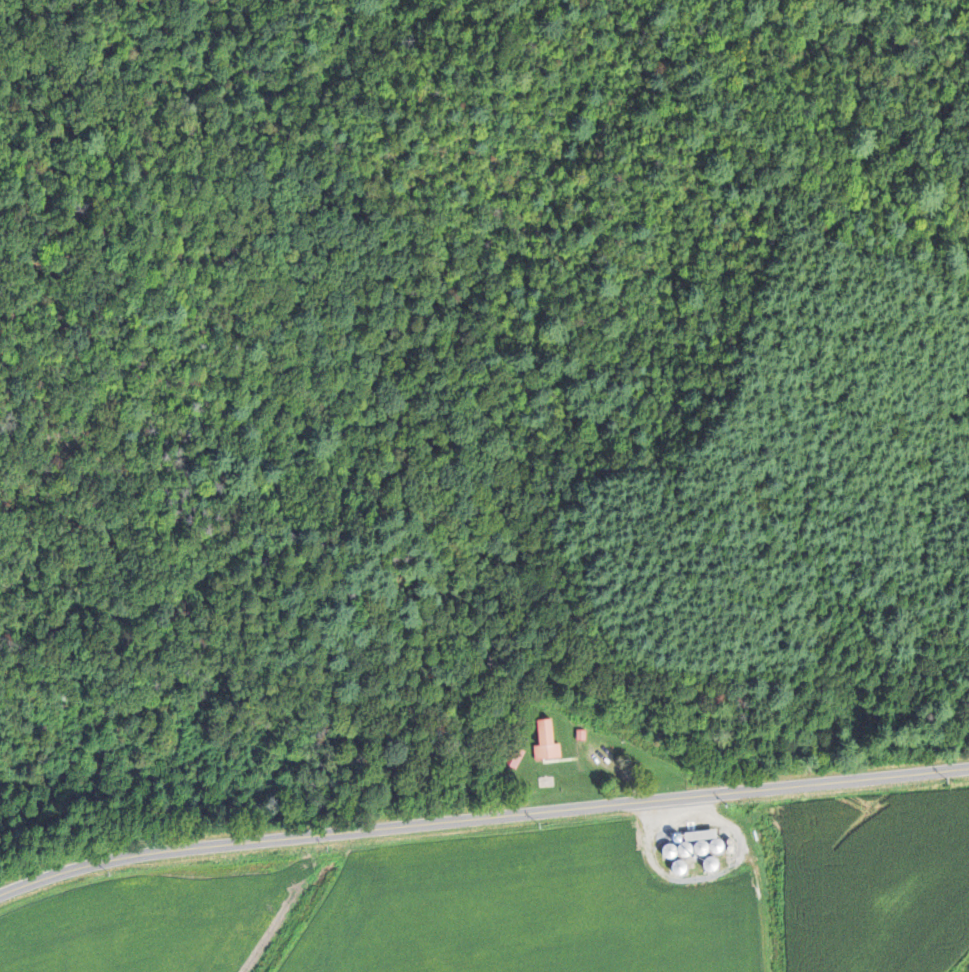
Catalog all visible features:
building: (545, 744)
road: (481, 815)
building: (716, 844)
building: (700, 847)
building: (684, 848)
building: (669, 850)
building: (709, 863)
building: (678, 867)
crop: (875, 877)
road: (701, 880)
road: (765, 904)

